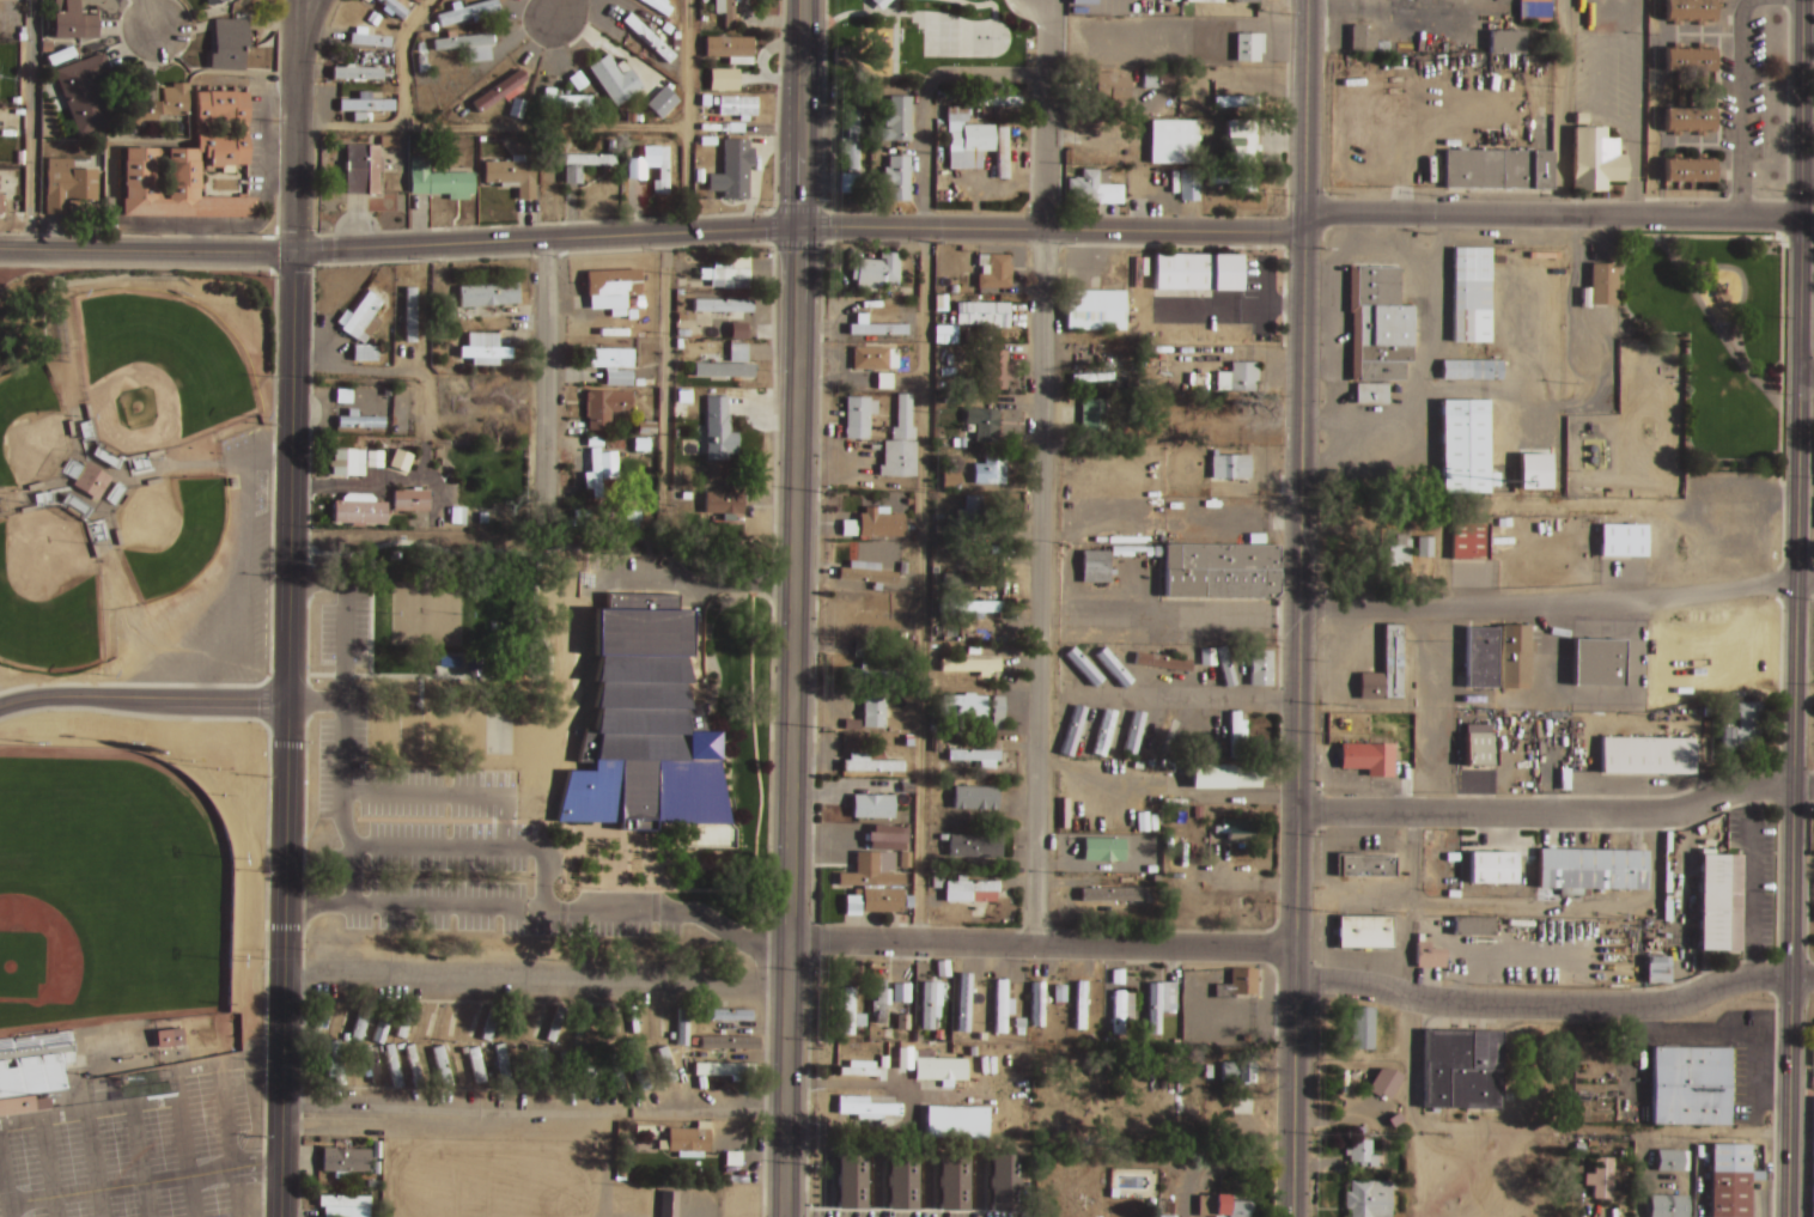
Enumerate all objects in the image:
building: (208, 1)
building: (1085, 1)
building: (1246, 1)
building: (879, 2)
building: (1201, 2)
building: (661, 5)
building: (394, 6)
road: (555, 6)
building: (1177, 7)
building: (1688, 8)
building: (469, 10)
building: (1534, 11)
road: (147, 12)
building: (730, 12)
building: (68, 20)
road: (294, 31)
road: (308, 31)
building: (649, 36)
building: (370, 38)
building: (227, 39)
building: (463, 39)
building: (1360, 39)
building: (1505, 43)
building: (730, 44)
park: (929, 44)
building: (1249, 45)
building: (1687, 56)
building: (357, 71)
building: (628, 77)
building: (1159, 77)
building: (725, 79)
building: (613, 83)
building: (1114, 85)
building: (500, 87)
road: (827, 87)
building: (84, 91)
building: (738, 99)
building: (154, 101)
building: (565, 101)
building: (998, 102)
building: (367, 103)
building: (661, 104)
road: (1562, 107)
building: (516, 109)
building: (737, 109)
building: (957, 112)
road: (802, 114)
building: (1686, 116)
building: (896, 120)
road: (29, 124)
building: (244, 126)
building: (1243, 139)
building: (1176, 140)
building: (755, 142)
building: (974, 144)
building: (851, 145)
building: (1003, 151)
road: (292, 157)
building: (1594, 158)
building: (584, 163)
building: (652, 165)
building: (363, 168)
building: (1687, 168)
building: (732, 169)
building: (1496, 169)
road: (1807, 171)
building: (513, 174)
building: (897, 176)
building: (438, 178)
building: (1237, 178)
building: (853, 183)
building: (66, 184)
building: (1192, 184)
building: (175, 187)
building: (1096, 187)
road: (1553, 213)
road: (1052, 230)
road: (544, 237)
road: (145, 250)
building: (878, 269)
building: (996, 269)
building: (729, 272)
building: (1195, 273)
building: (615, 282)
building: (1602, 285)
building: (955, 288)
building: (485, 292)
building: (1469, 296)
building: (942, 302)
building: (723, 303)
building: (1094, 311)
building: (361, 314)
building: (409, 315)
building: (985, 315)
building: (1377, 324)
building: (876, 327)
building: (736, 334)
park: (1716, 337)
building: (482, 349)
building: (364, 357)
building: (872, 358)
road: (543, 359)
building: (614, 364)
building: (724, 367)
building: (998, 369)
building: (1469, 370)
road: (352, 371)
park: (154, 376)
building: (1095, 376)
building: (1241, 376)
road: (1806, 376)
building: (1133, 383)
road: (1797, 393)
building: (1370, 394)
road: (1302, 404)
building: (489, 406)
building: (605, 406)
building: (858, 409)
building: (1095, 414)
building: (1218, 420)
park: (29, 422)
building: (996, 424)
building: (359, 425)
building: (718, 439)
building: (901, 444)
building: (1462, 446)
building: (348, 461)
building: (398, 464)
building: (996, 465)
building: (1230, 469)
building: (596, 471)
road: (1041, 471)
building: (1533, 471)
park: (135, 475)
road: (288, 475)
building: (952, 476)
building: (84, 479)
building: (720, 497)
building: (412, 500)
building: (1406, 509)
building: (359, 511)
building: (972, 512)
building: (582, 522)
building: (881, 522)
road: (921, 522)
building: (942, 530)
park: (166, 533)
building: (1621, 541)
building: (1467, 542)
building: (1423, 548)
building: (974, 553)
building: (963, 554)
building: (1392, 554)
building: (1097, 566)
building: (905, 567)
building: (1223, 570)
building: (868, 573)
building: (981, 578)
road: (795, 584)
park: (49, 590)
building: (902, 595)
building: (993, 598)
road: (1557, 604)
building: (978, 608)
building: (972, 615)
road: (1187, 616)
building: (878, 620)
building: (987, 621)
building: (975, 651)
building: (1512, 655)
building: (1210, 656)
building: (1478, 657)
building: (1162, 661)
building: (1596, 662)
building: (1232, 663)
building: (972, 665)
building: (1085, 665)
building: (1116, 667)
building: (1262, 668)
building: (1383, 670)
building: (876, 673)
building: (909, 690)
road: (142, 698)
road: (1182, 698)
road: (315, 701)
building: (966, 706)
building: (872, 712)
building: (878, 712)
building: (999, 712)
road: (341, 717)
building: (1746, 725)
building: (1075, 729)
building: (649, 730)
building: (1168, 731)
building: (1106, 732)
building: (1134, 734)
building: (1238, 734)
building: (1724, 737)
building: (911, 742)
park: (540, 743)
building: (1478, 747)
building: (979, 755)
building: (1645, 755)
building: (1366, 759)
building: (912, 760)
building: (870, 763)
building: (1215, 775)
building: (1253, 775)
road: (1803, 787)
building: (979, 792)
road: (448, 795)
building: (943, 796)
building: (868, 808)
road: (1547, 814)
building: (1241, 828)
road: (476, 846)
building: (973, 846)
building: (1101, 847)
building: (1365, 865)
building: (1491, 868)
building: (1107, 869)
building: (1118, 869)
building: (1589, 869)
road: (1296, 880)
building: (875, 882)
road: (1792, 883)
building: (972, 890)
building: (1096, 893)
building: (1098, 902)
road: (1411, 903)
building: (1719, 903)
road: (1573, 907)
road: (540, 909)
park: (108, 918)
building: (1472, 925)
building: (1363, 933)
road: (1042, 944)
building: (1426, 956)
road: (284, 959)
park: (133, 963)
road: (1295, 966)
building: (1655, 969)
road: (1802, 979)
road: (536, 982)
building: (1241, 984)
building: (902, 993)
building: (1061, 996)
building: (932, 997)
building: (883, 1000)
building: (1162, 1003)
building: (1083, 1004)
building: (967, 1005)
road: (1544, 1005)
building: (1003, 1006)
building: (1039, 1008)
building: (1124, 1010)
building: (729, 1015)
building: (852, 1015)
building: (317, 1021)
building: (404, 1022)
building: (469, 1022)
building: (491, 1022)
building: (363, 1023)
building: (427, 1023)
building: (512, 1023)
building: (554, 1024)
building: (611, 1024)
building: (448, 1026)
building: (577, 1026)
building: (1364, 1029)
building: (534, 1032)
building: (1021, 1032)
building: (683, 1033)
building: (890, 1034)
building: (371, 1035)
building: (166, 1039)
building: (728, 1042)
building: (61, 1058)
building: (665, 1063)
building: (392, 1064)
building: (503, 1064)
building: (523, 1065)
building: (546, 1065)
building: (351, 1066)
building: (372, 1066)
building: (443, 1066)
building: (475, 1066)
building: (535, 1066)
building: (639, 1066)
building: (1457, 1066)
building: (567, 1069)
building: (615, 1069)
building: (726, 1069)
building: (465, 1070)
building: (588, 1070)
building: (860, 1070)
building: (942, 1070)
building: (1241, 1070)
building: (415, 1071)
building: (333, 1072)
road: (786, 1078)
building: (1383, 1084)
road: (881, 1087)
building: (1688, 1087)
road: (1789, 1097)
road: (1293, 1100)
building: (865, 1108)
road: (532, 1109)
building: (957, 1122)
building: (689, 1140)
building: (1363, 1151)
parking lot: (132, 1154)
building: (343, 1161)
building: (1672, 1161)
building: (1812, 1168)
building: (1600, 1179)
building: (1727, 1180)
building: (850, 1181)
building: (901, 1182)
building: (952, 1182)
building: (1003, 1183)
road: (124, 1186)
building: (1370, 1199)
building: (666, 1205)
building: (345, 1206)
building: (1667, 1206)
building: (1224, 1207)

